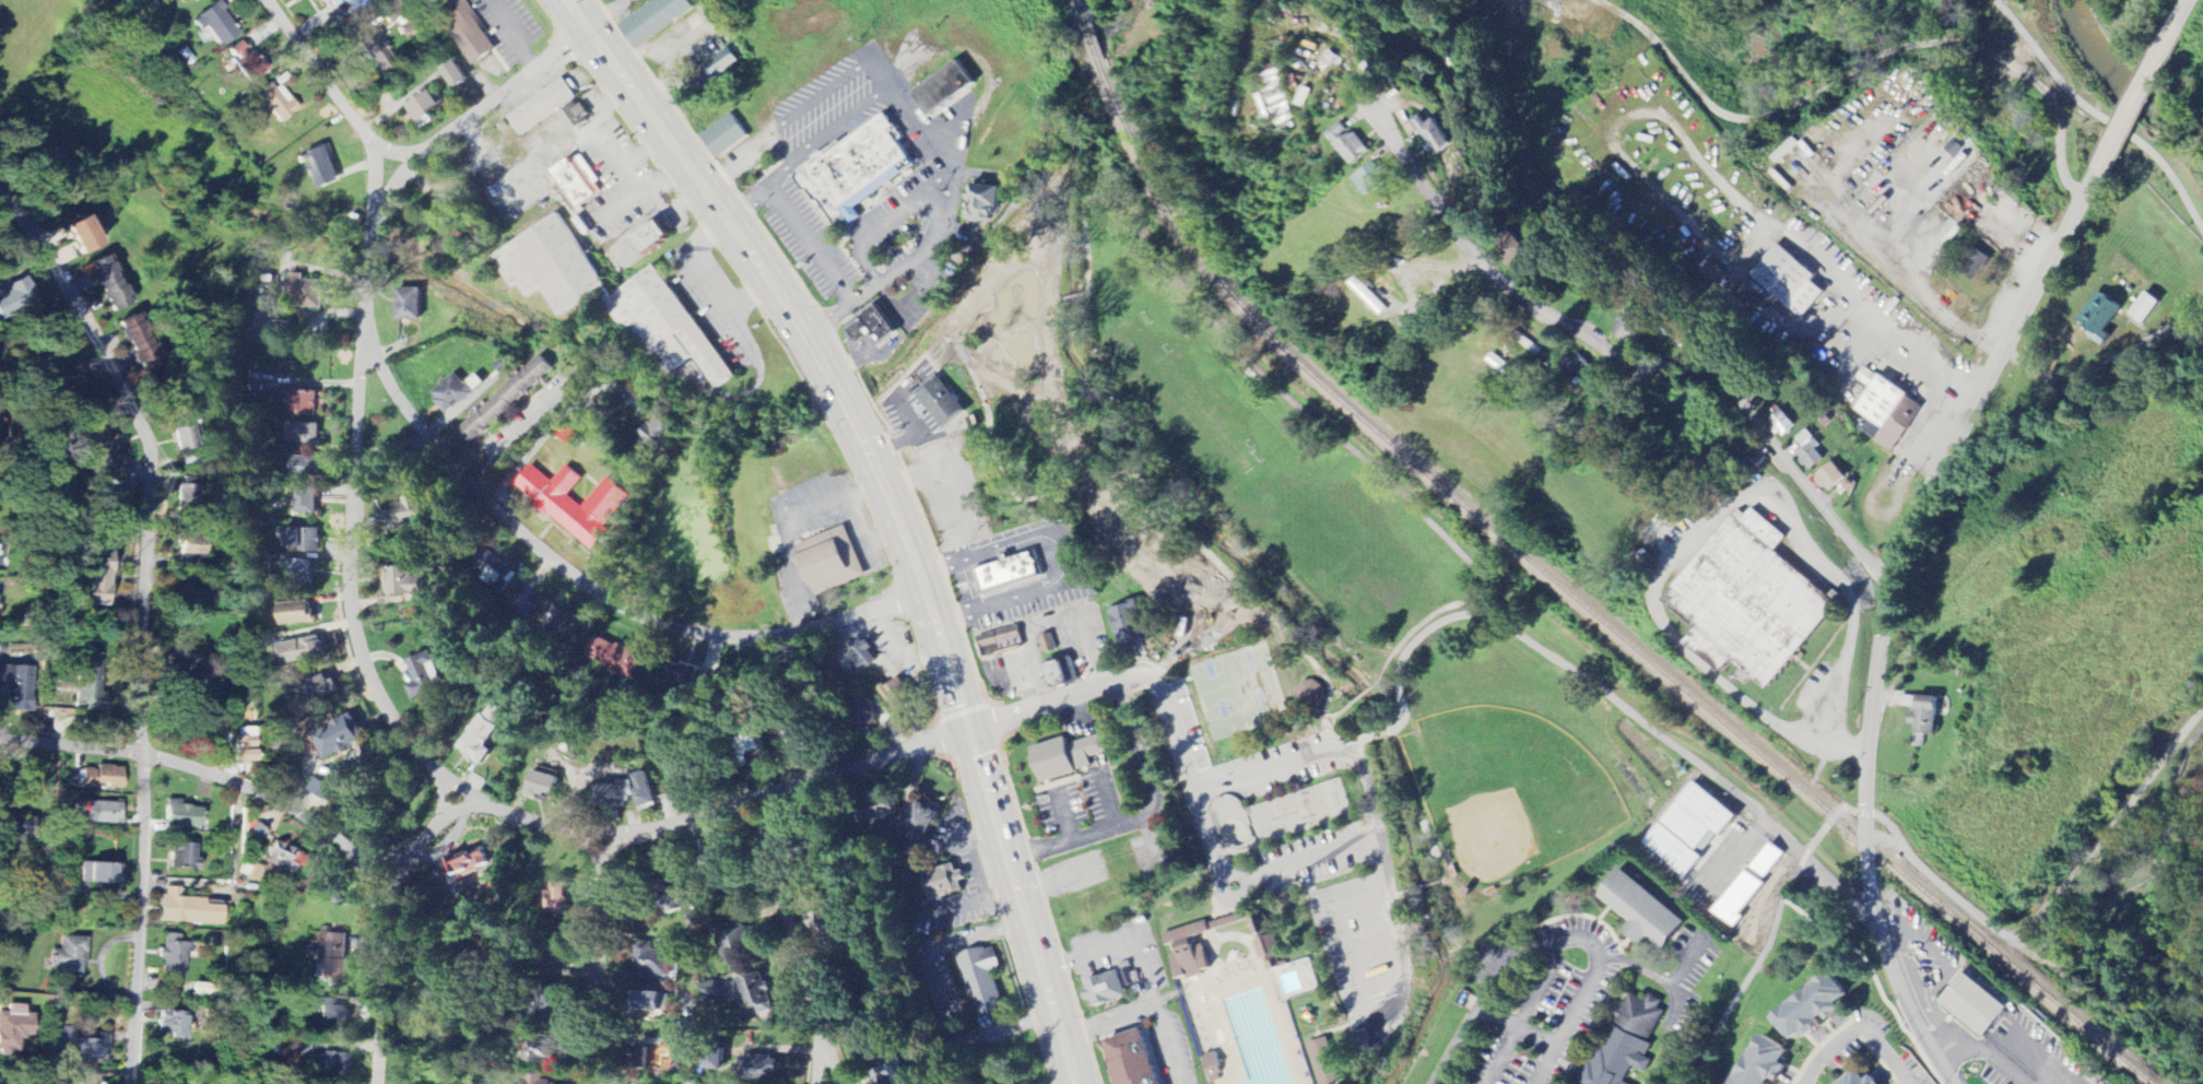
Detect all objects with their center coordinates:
building: (191, 1)
building: (331, 3)
road: (2184, 10)
building: (655, 20)
building: (216, 25)
building: (463, 28)
building: (380, 46)
building: (721, 64)
building: (456, 74)
building: (944, 89)
road: (824, 93)
road: (2137, 95)
road: (340, 97)
building: (276, 102)
park: (2097, 102)
building: (425, 106)
building: (543, 106)
road: (2099, 117)
building: (576, 118)
building: (1346, 132)
building: (1442, 134)
road: (826, 135)
building: (724, 137)
building: (1362, 148)
road: (397, 152)
road: (732, 157)
road: (1694, 158)
building: (322, 166)
building: (857, 170)
building: (1379, 178)
building: (578, 181)
road: (938, 184)
building: (986, 203)
road: (1911, 210)
road: (942, 220)
road: (789, 221)
road: (883, 223)
building: (82, 235)
building: (653, 237)
building: (449, 241)
road: (1864, 243)
road: (2012, 246)
road: (1750, 247)
building: (551, 266)
building: (1712, 273)
building: (1791, 281)
building: (109, 284)
building: (305, 292)
building: (259, 293)
road: (1070, 296)
building: (15, 298)
road: (919, 301)
building: (409, 304)
building: (2146, 308)
building: (2101, 317)
building: (1639, 325)
building: (664, 328)
building: (873, 328)
building: (271, 331)
building: (139, 341)
road: (961, 358)
building: (57, 360)
road: (1622, 364)
building: (1582, 367)
road: (2028, 370)
road: (1969, 374)
road: (2076, 379)
building: (76, 386)
building: (452, 392)
building: (506, 400)
building: (304, 403)
building: (943, 404)
building: (1886, 411)
building: (593, 414)
road: (1305, 414)
building: (1784, 424)
road: (551, 429)
building: (303, 434)
building: (187, 435)
building: (655, 438)
road: (150, 450)
building: (1811, 451)
building: (104, 458)
road: (439, 462)
building: (304, 467)
building: (1831, 478)
building: (188, 496)
building: (557, 499)
building: (306, 503)
building: (604, 506)
road: (887, 507)
building: (411, 514)
road: (855, 522)
road: (1703, 532)
building: (302, 540)
building: (0, 550)
road: (1056, 559)
building: (832, 561)
building: (298, 570)
building: (494, 570)
building: (1010, 574)
building: (98, 578)
building: (405, 581)
railway: (1559, 586)
road: (1238, 590)
building: (1752, 602)
building: (295, 613)
road: (1889, 613)
building: (557, 617)
road: (1049, 621)
building: (1129, 626)
building: (1001, 643)
building: (1048, 644)
building: (301, 652)
building: (861, 656)
building: (614, 658)
park: (1336, 670)
building: (426, 672)
building: (1064, 674)
road: (1157, 674)
building: (694, 676)
building: (185, 680)
building: (90, 683)
building: (17, 686)
building: (319, 690)
park: (1236, 691)
road: (1360, 693)
building: (1311, 694)
building: (896, 695)
road: (1611, 700)
road: (1339, 710)
building: (867, 717)
building: (1927, 717)
building: (248, 718)
traffic signals: (963, 732)
road: (1339, 732)
building: (484, 733)
road: (1375, 734)
building: (340, 738)
road: (1352, 742)
building: (246, 750)
building: (1068, 757)
building: (684, 775)
road: (217, 776)
building: (103, 777)
building: (541, 788)
park: (1506, 788)
building: (322, 790)
building: (623, 793)
road: (480, 803)
building: (885, 808)
building: (104, 813)
park: (1276, 815)
building: (182, 816)
road: (1141, 816)
building: (924, 822)
building: (1694, 829)
building: (257, 834)
building: (792, 839)
building: (184, 857)
building: (284, 859)
road: (1296, 862)
building: (464, 865)
road: (379, 868)
park: (2151, 870)
building: (250, 872)
building: (105, 874)
building: (943, 883)
building: (1752, 887)
road: (2133, 891)
building: (562, 896)
road: (1373, 902)
building: (187, 909)
building: (1644, 914)
road: (143, 915)
building: (821, 923)
road: (384, 924)
road: (2019, 934)
road: (792, 943)
building: (1268, 943)
building: (741, 945)
building: (1194, 948)
road: (1519, 953)
building: (69, 957)
building: (173, 957)
building: (333, 957)
building: (653, 962)
road: (597, 963)
building: (555, 967)
road: (1750, 970)
building: (982, 981)
building: (1106, 990)
building: (756, 994)
building: (653, 1003)
building: (1977, 1004)
building: (1815, 1008)
road: (1523, 1013)
building: (331, 1014)
building: (175, 1025)
building: (14, 1028)
road: (1853, 1029)
road: (1528, 1032)
building: (64, 1034)
building: (1626, 1044)
building: (91, 1049)
building: (541, 1053)
road: (1996, 1053)
building: (286, 1056)
building: (640, 1059)
building: (1134, 1060)
building: (1324, 1062)
building: (333, 1063)
road: (1544, 1063)
building: (1767, 1063)
road: (830, 1067)
building: (757, 1068)
building: (1213, 1068)
building: (887, 1071)
building: (1861, 1079)
building: (89, 1080)
building: (539, 1080)
building: (1163, 1083)

